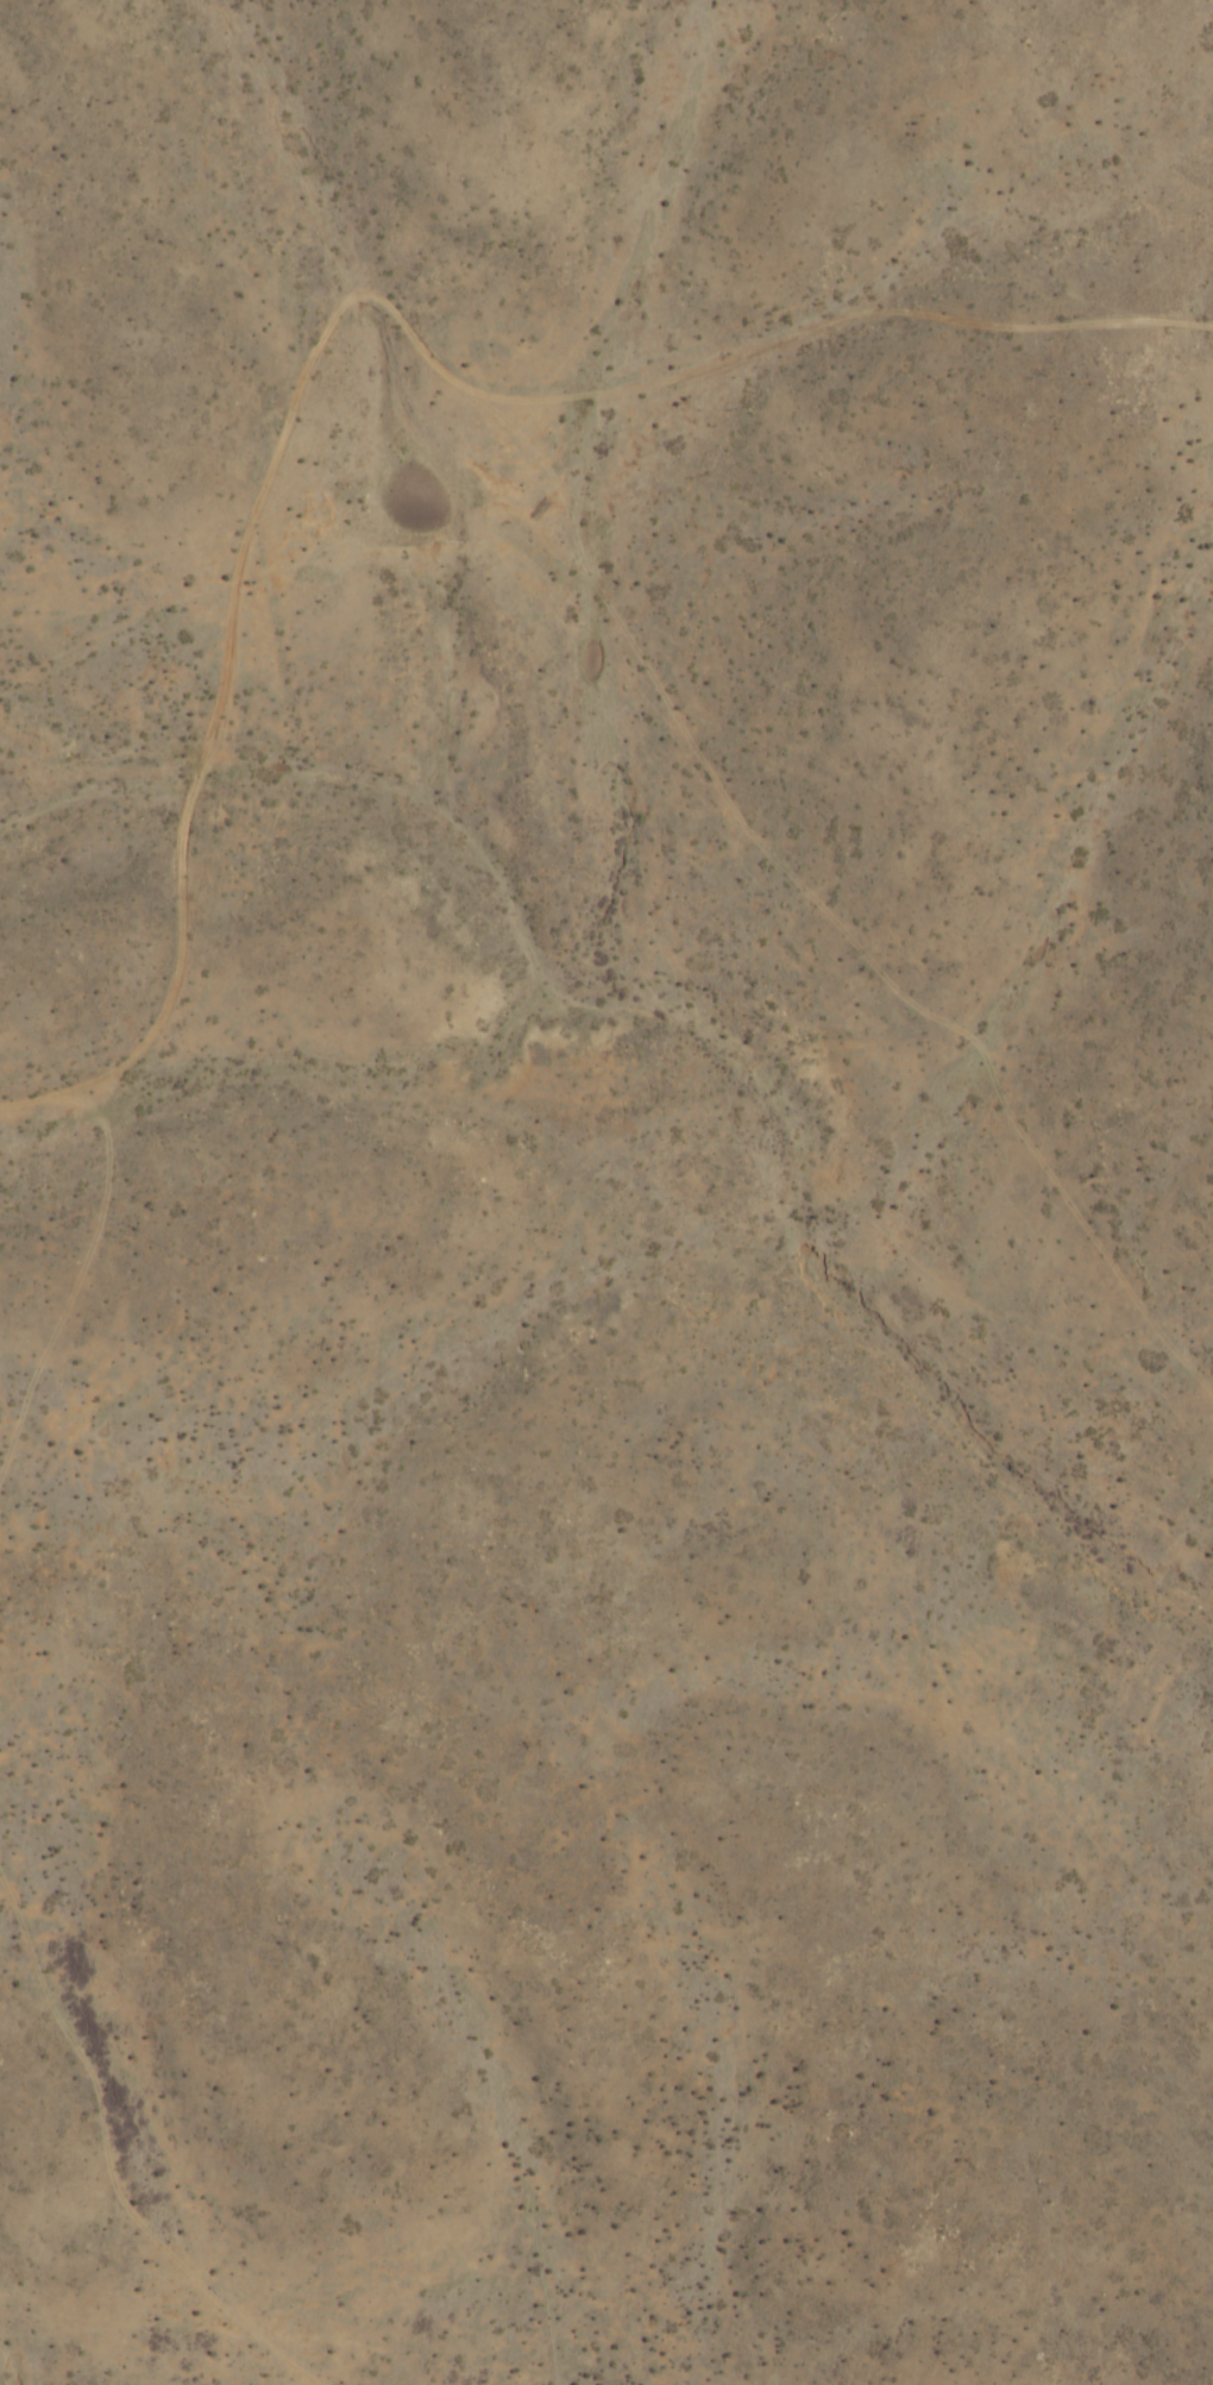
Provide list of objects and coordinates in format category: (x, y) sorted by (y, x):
road: (243, 826)
road: (49, 1097)
road: (1074, 1205)

